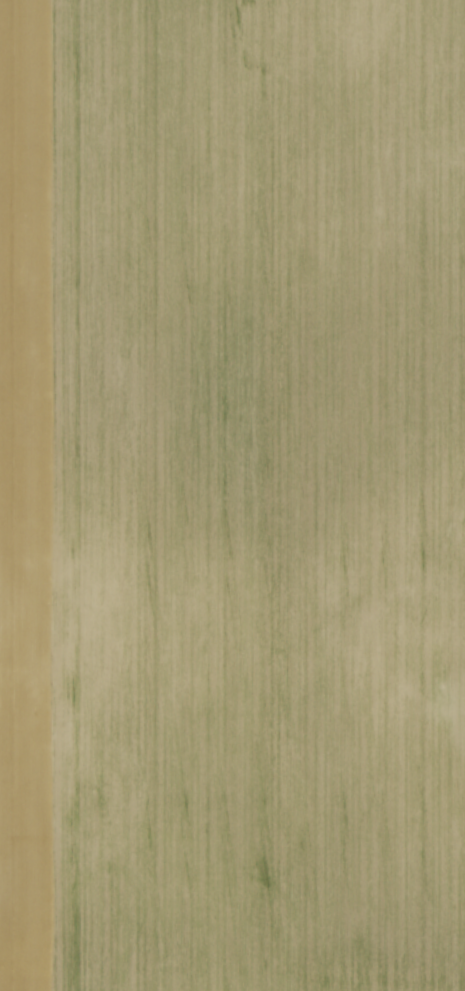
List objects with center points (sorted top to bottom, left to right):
crop: (232, 495)

